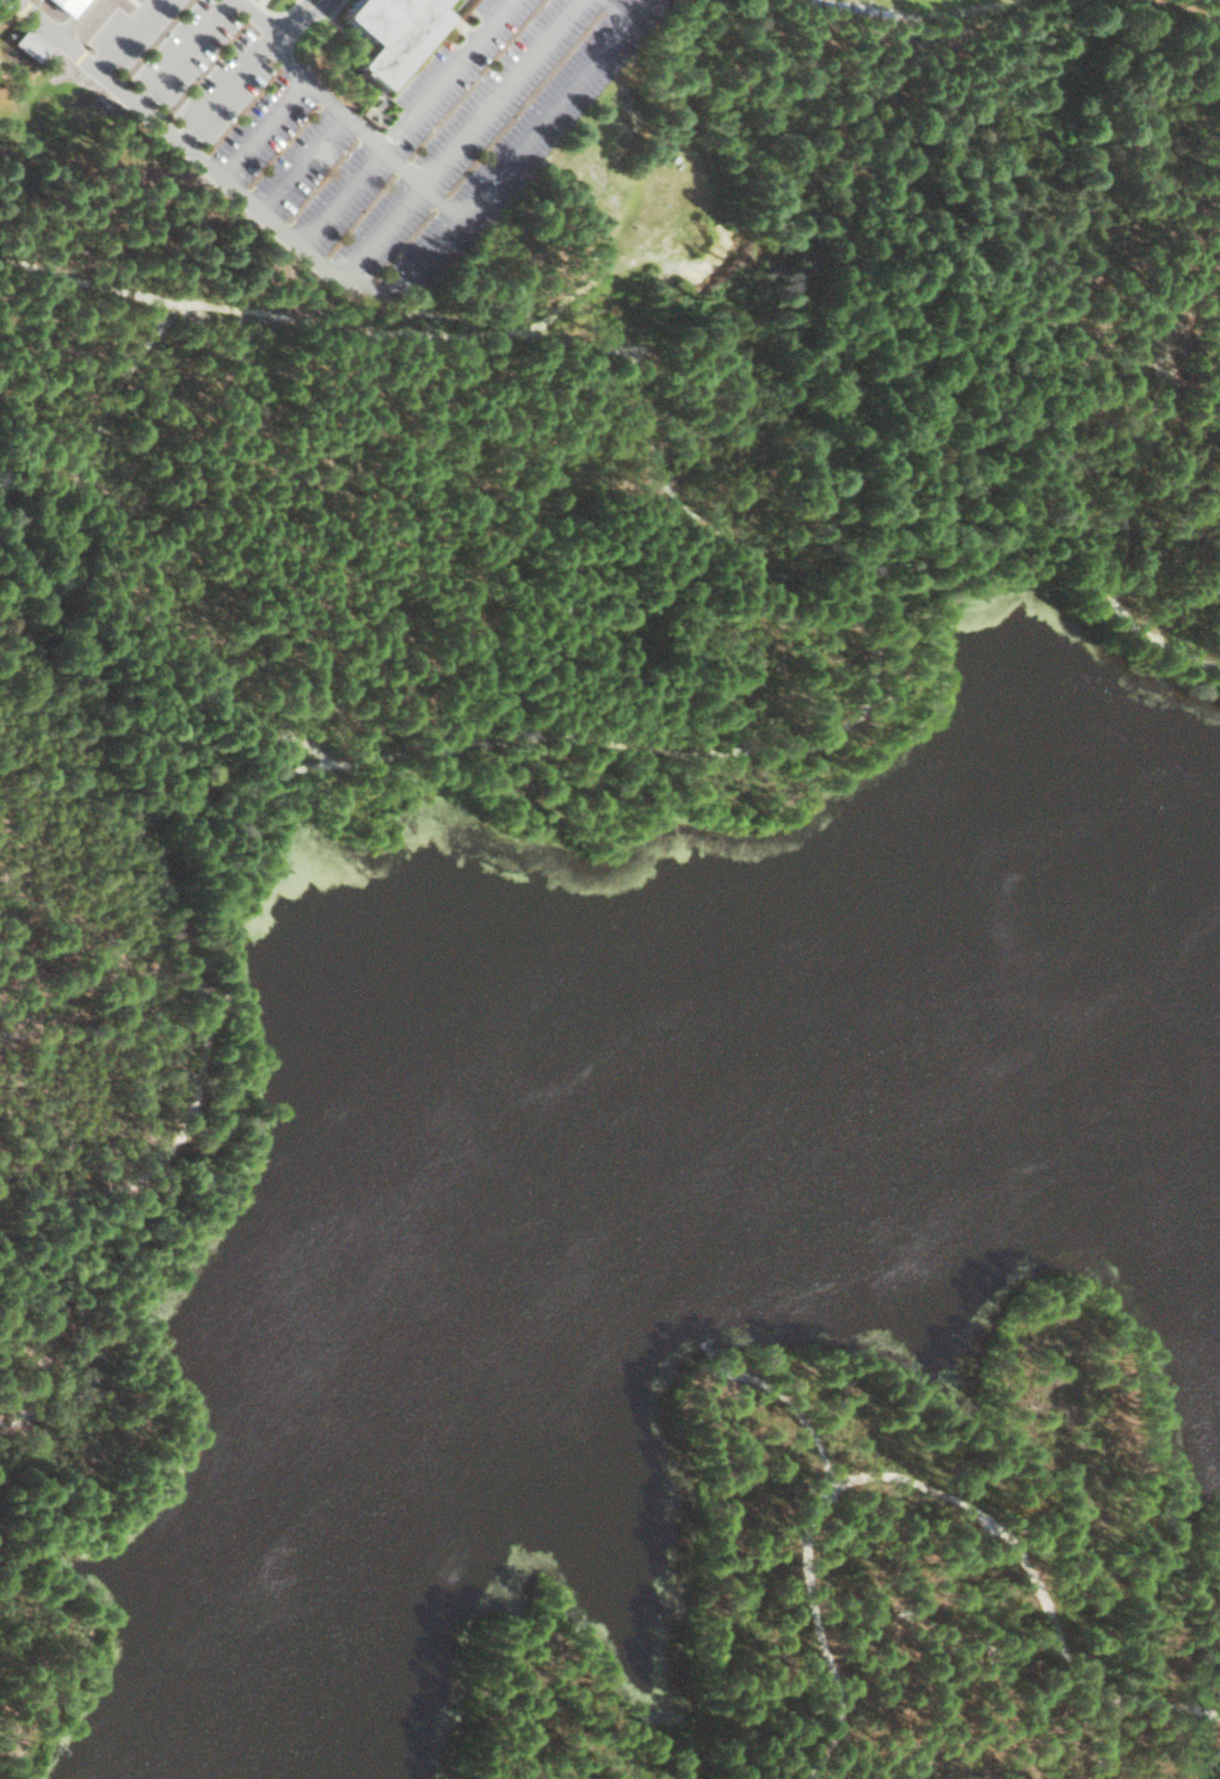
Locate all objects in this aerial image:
building: (69, 5)
road: (5, 11)
road: (55, 30)
building: (394, 32)
building: (31, 44)
road: (460, 138)
road: (111, 164)
road: (282, 229)
road: (91, 494)
road: (427, 743)
park: (600, 1131)
road: (790, 1411)
road: (926, 1484)

